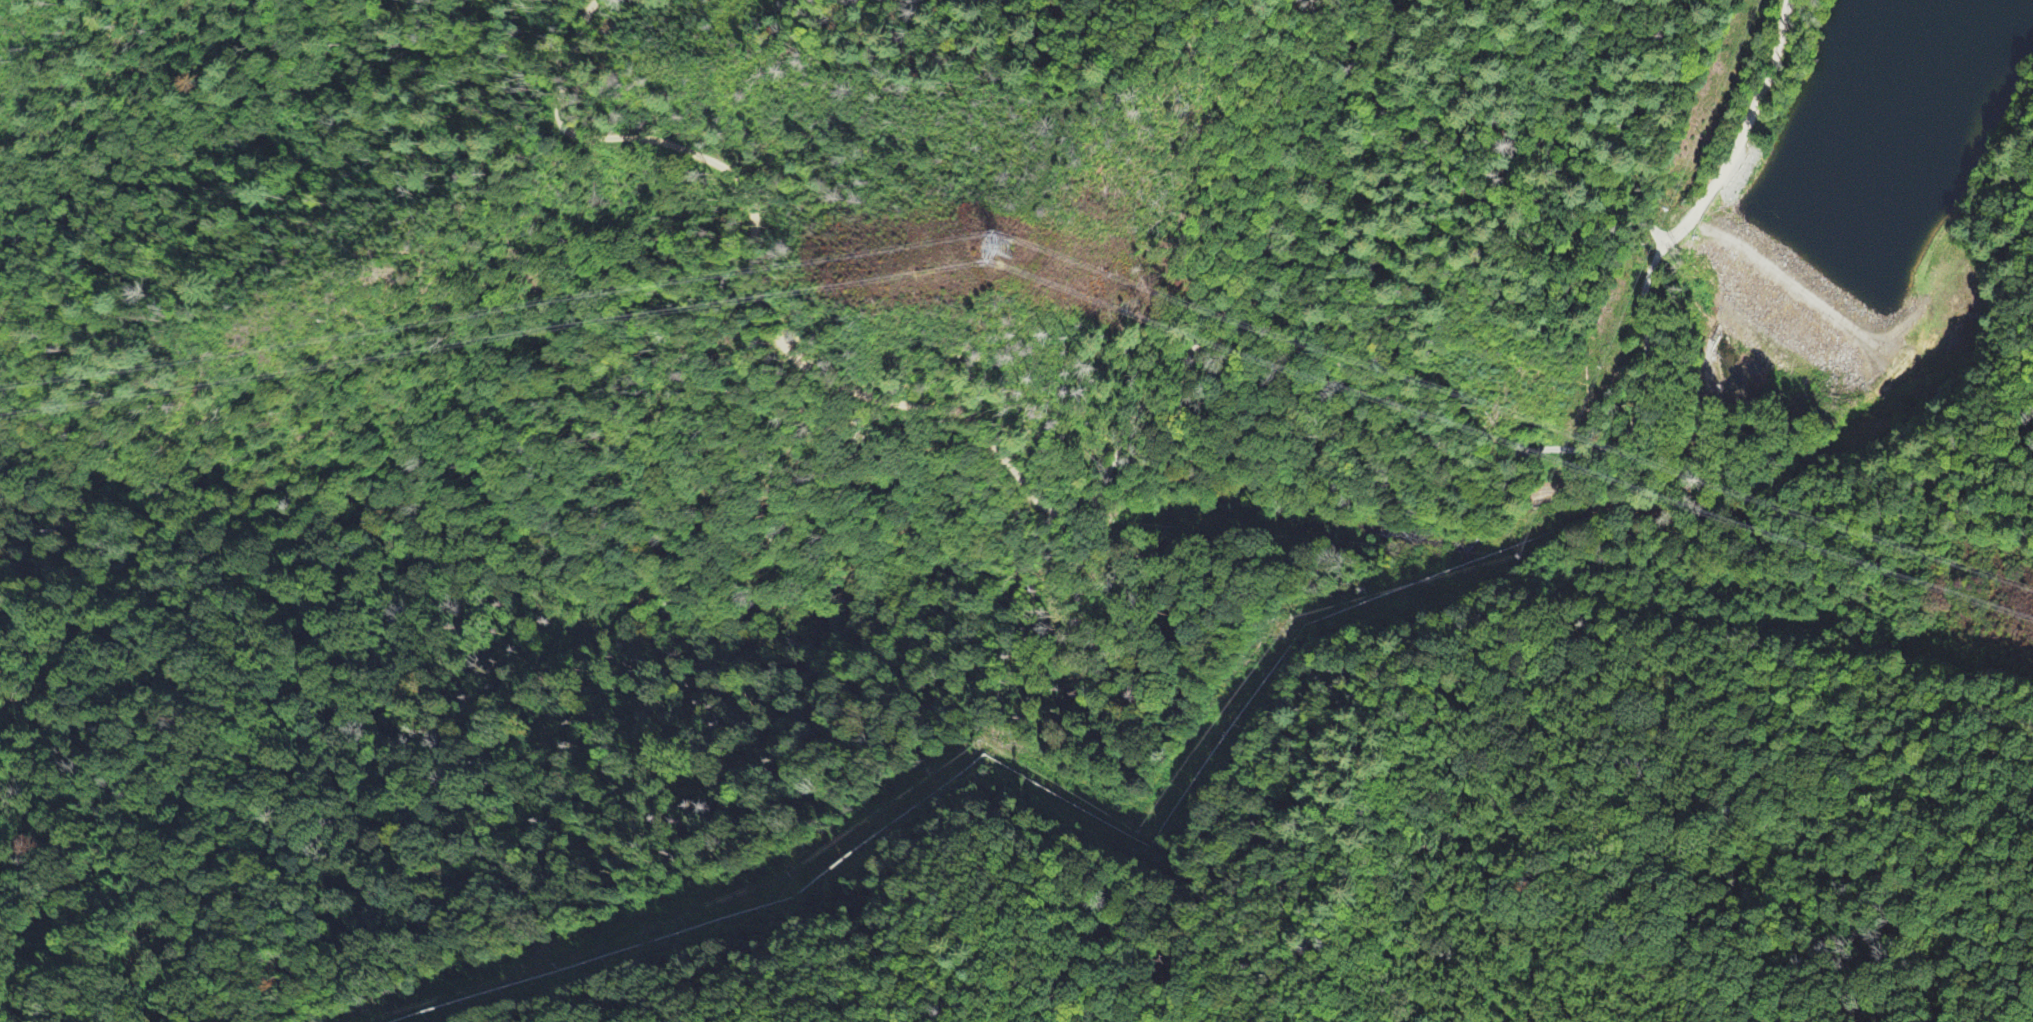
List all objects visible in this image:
road: (1745, 129)
power tower: (1019, 249)
dam: (1790, 280)
road: (1101, 489)

